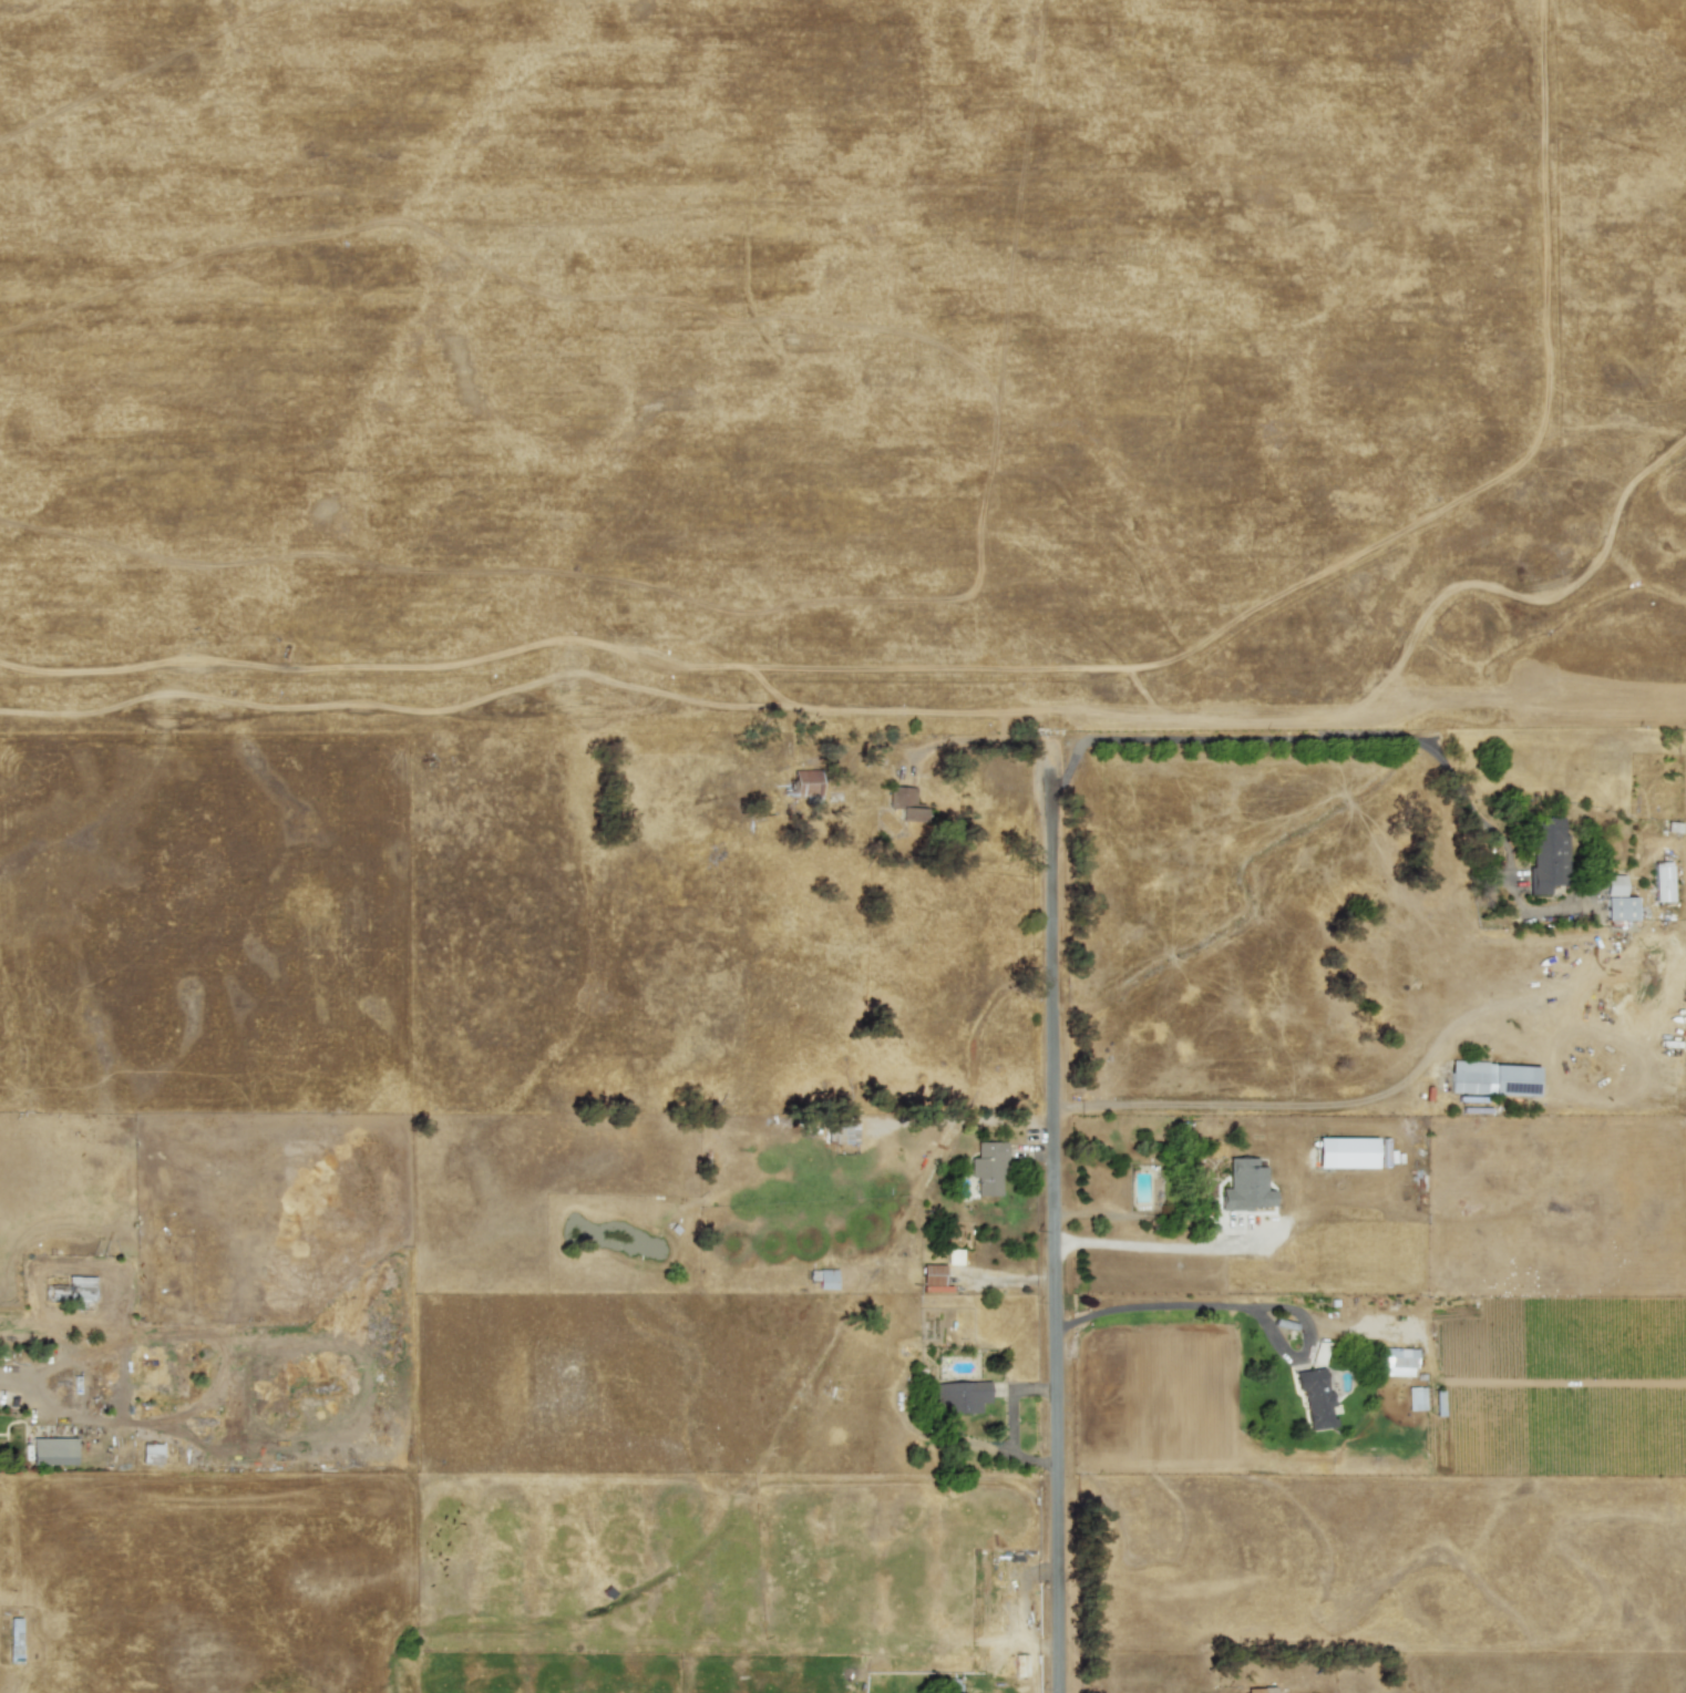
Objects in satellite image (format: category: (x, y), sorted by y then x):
road: (1346, 735)
building: (806, 784)
building: (905, 803)
building: (1545, 854)
building: (1617, 900)
building: (1492, 1078)
road: (1299, 1105)
building: (842, 1132)
building: (1344, 1151)
building: (988, 1167)
building: (1245, 1186)
road: (1138, 1217)
road: (1049, 1218)
road: (1127, 1230)
road: (1154, 1243)
building: (932, 1278)
building: (826, 1280)
building: (73, 1291)
road: (1238, 1306)
building: (1396, 1362)
road: (51, 1396)
building: (959, 1396)
building: (1314, 1397)
building: (1415, 1398)
road: (1011, 1422)
building: (52, 1451)
building: (151, 1454)
building: (1256, 1691)

